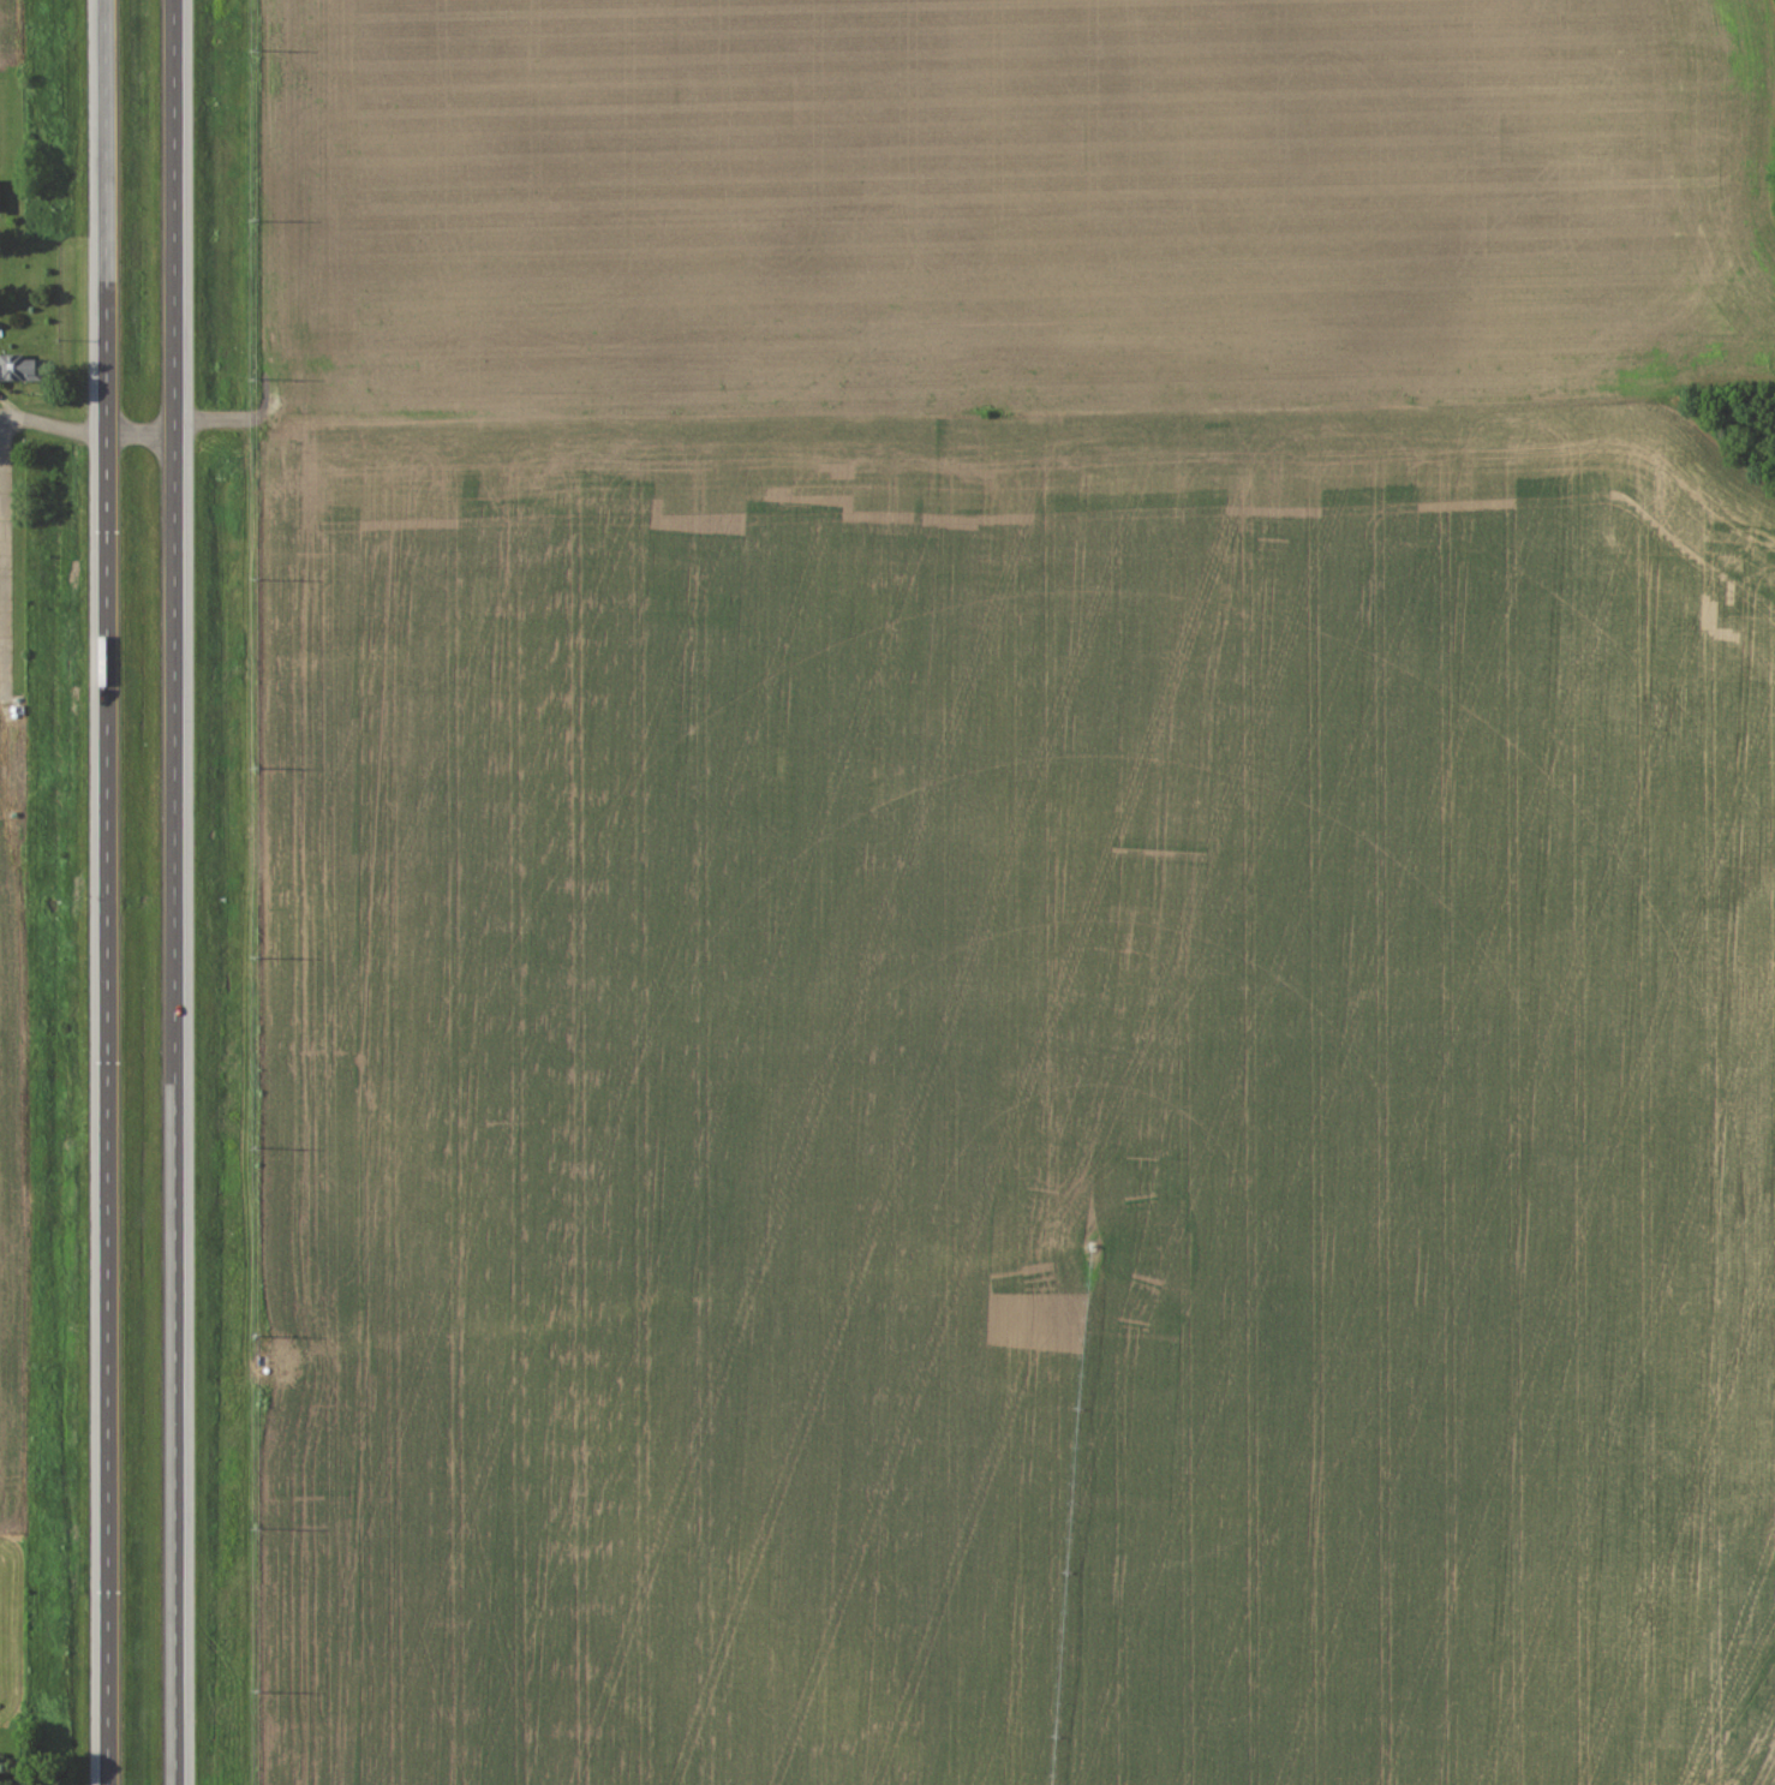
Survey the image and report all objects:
building: (0, 199)
building: (17, 368)
road: (220, 418)
road: (53, 424)
road: (5, 557)
road: (108, 891)
road: (177, 891)
road: (34, 1778)

